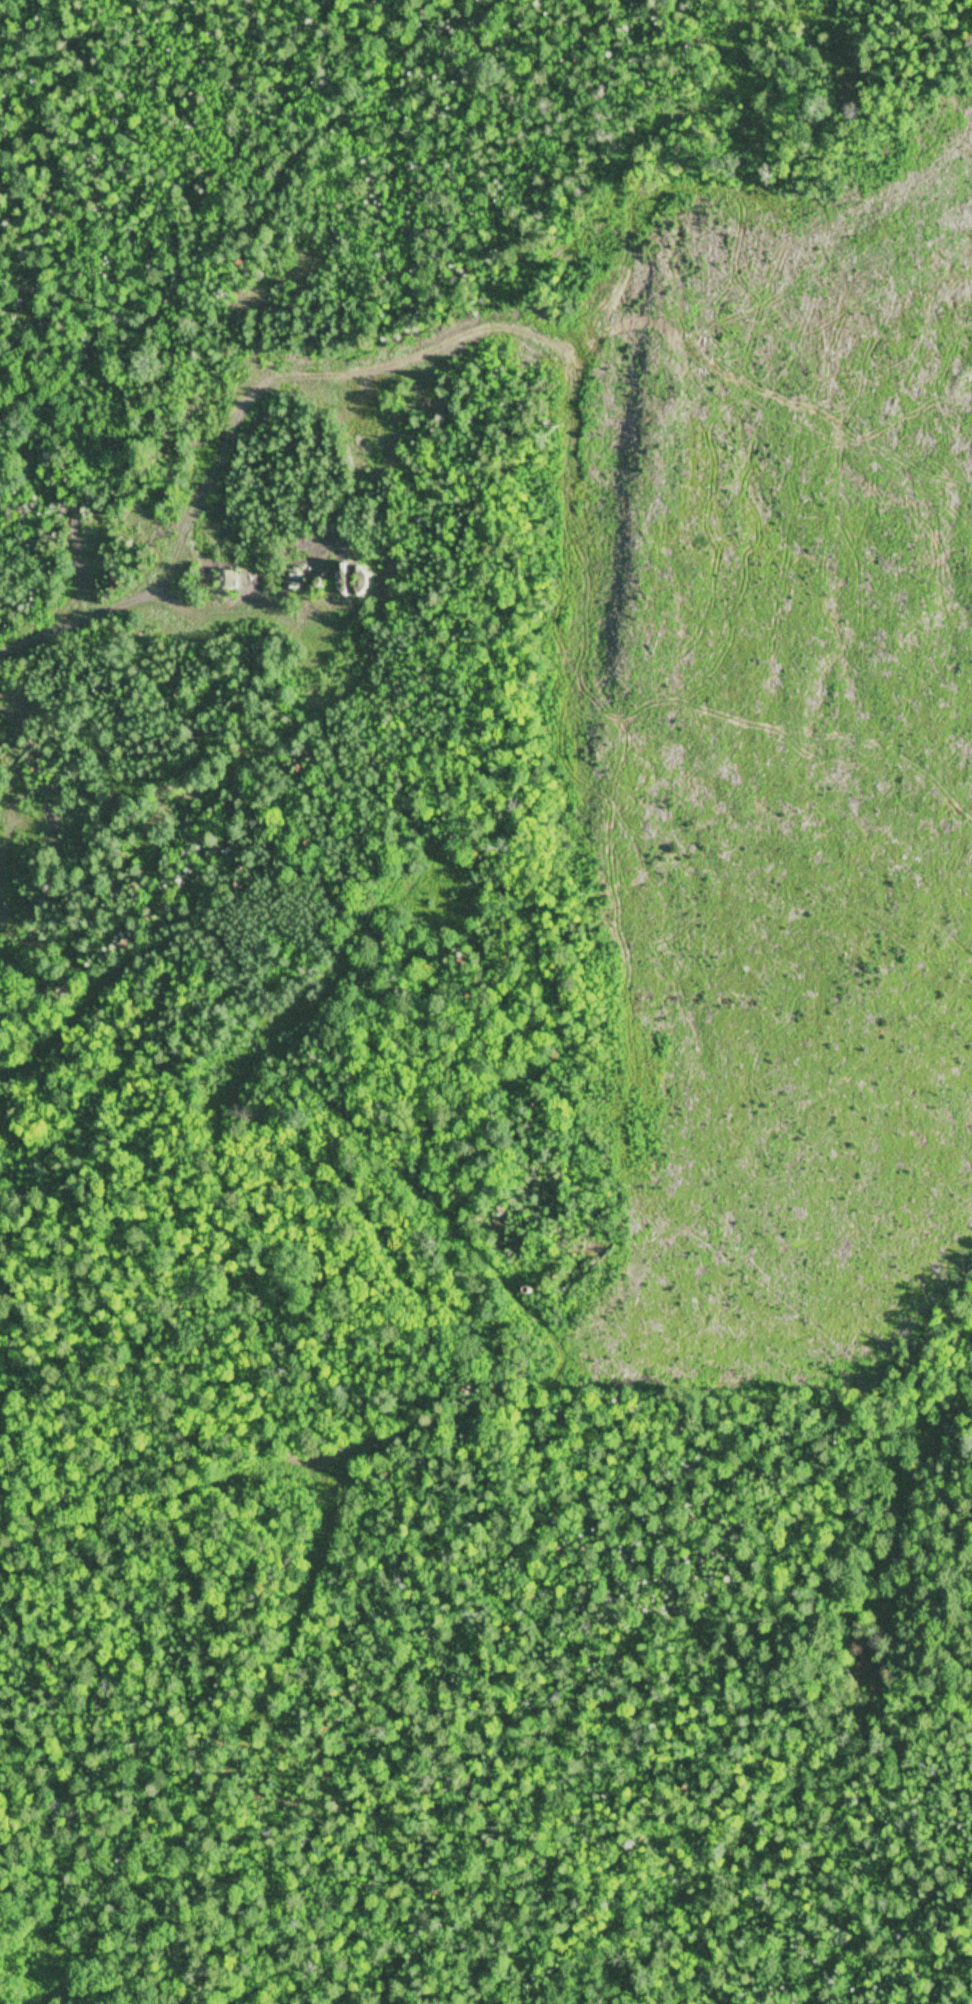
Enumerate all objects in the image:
road: (224, 676)
road: (323, 1406)

